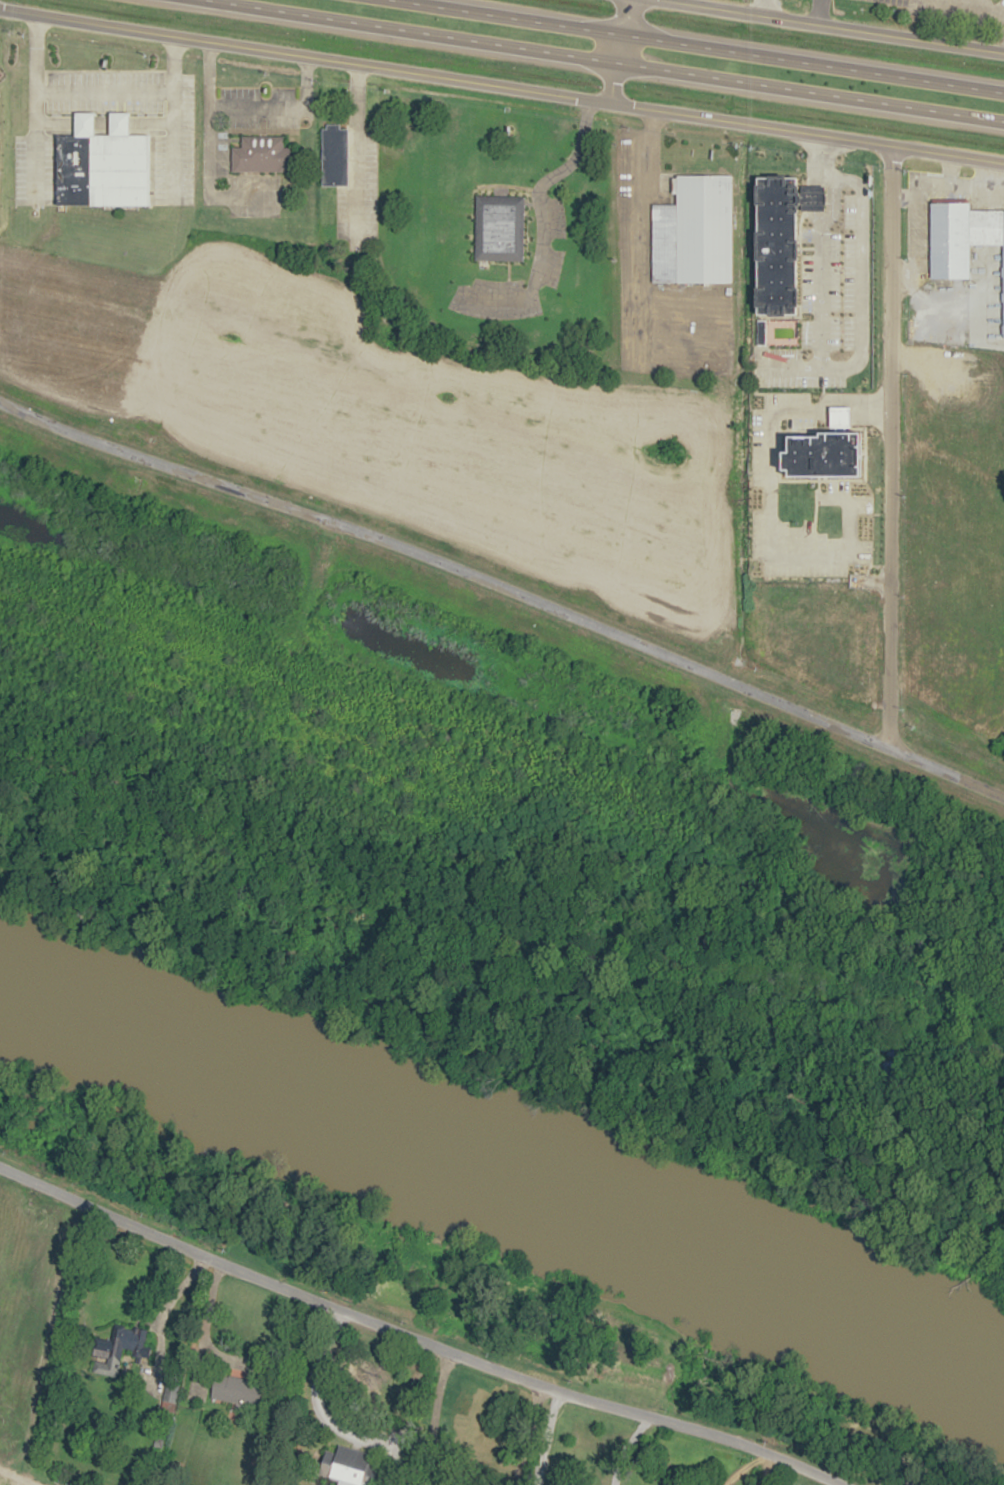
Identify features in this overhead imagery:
road: (988, 2)
road: (819, 11)
road: (837, 26)
road: (702, 45)
road: (618, 50)
road: (609, 61)
road: (501, 85)
road: (91, 94)
road: (248, 107)
building: (261, 153)
building: (334, 155)
building: (102, 163)
road: (534, 211)
building: (498, 226)
building: (694, 232)
building: (962, 238)
building: (780, 240)
crop: (397, 423)
road: (887, 449)
building: (825, 455)
road: (506, 590)
river: (497, 1171)
road: (167, 1320)
road: (415, 1337)
building: (121, 1348)
building: (238, 1390)
road: (529, 1435)
building: (348, 1466)
road: (742, 1467)
road: (765, 1468)
crop: (6, 1482)

